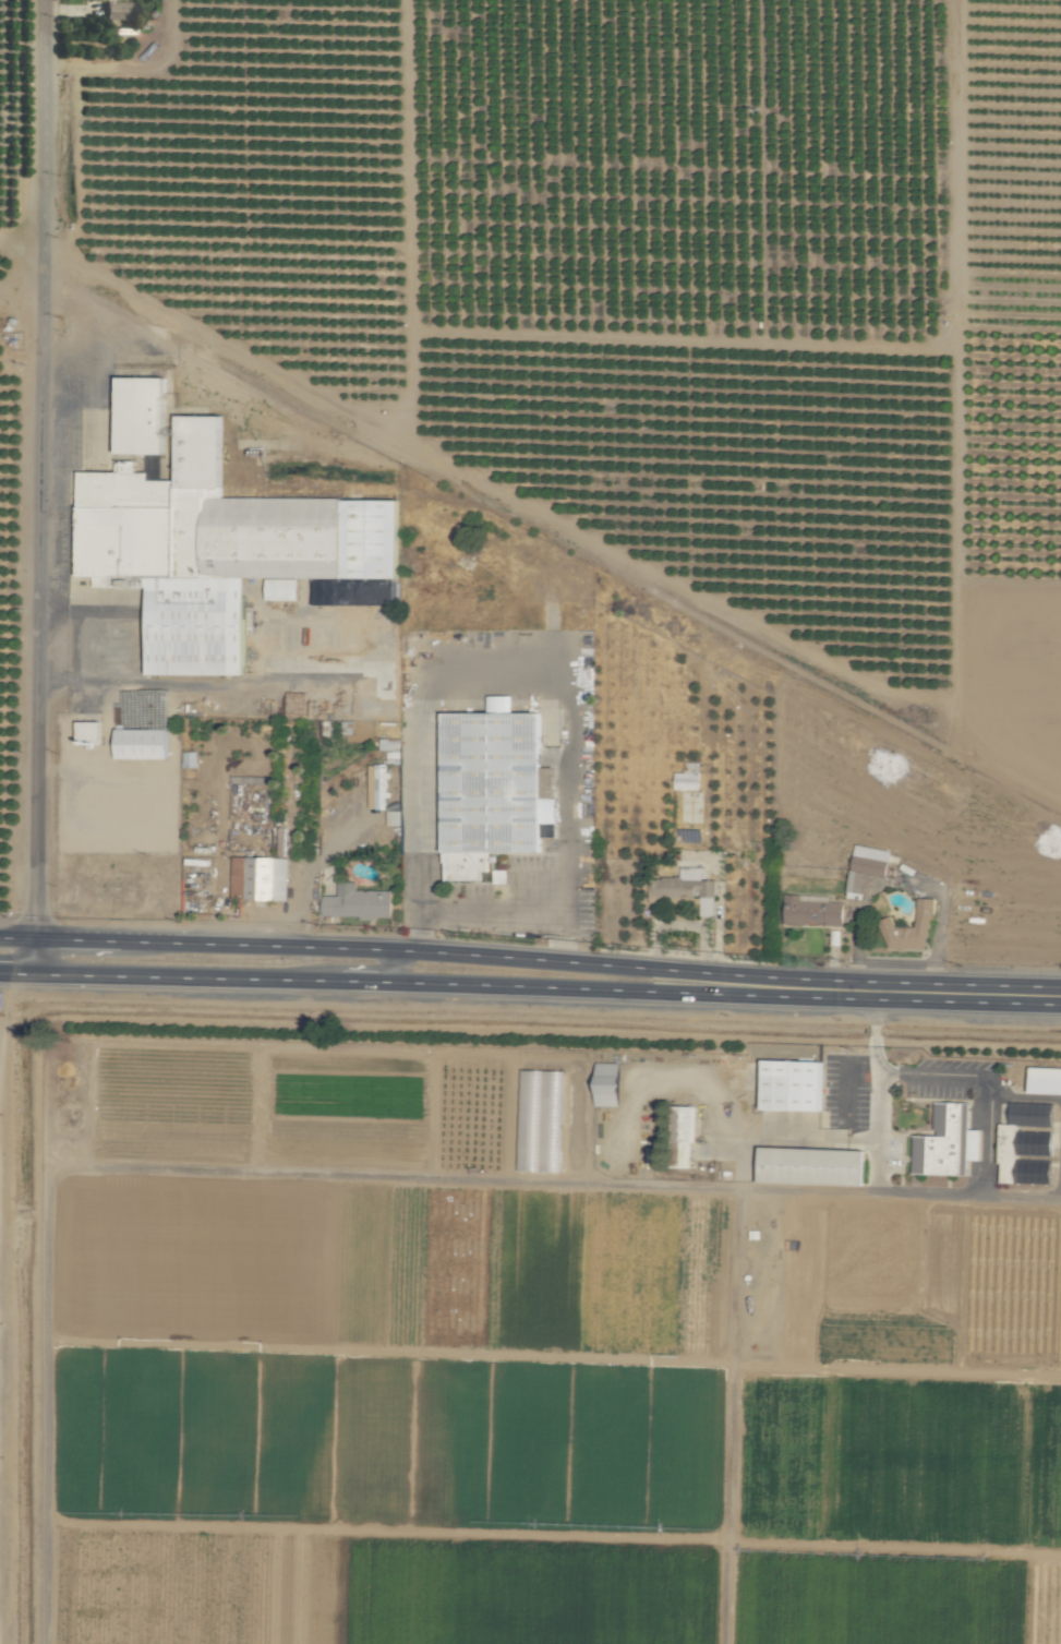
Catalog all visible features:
building: (119, 11)
road: (28, 253)
building: (142, 413)
road: (50, 488)
building: (224, 549)
road: (96, 617)
road: (293, 685)
building: (89, 733)
building: (142, 743)
building: (189, 759)
building: (686, 777)
building: (378, 785)
building: (490, 785)
crop: (530, 821)
road: (338, 841)
building: (865, 867)
building: (267, 877)
building: (685, 890)
building: (358, 902)
road: (300, 905)
building: (812, 910)
building: (911, 929)
road: (415, 931)
road: (400, 952)
road: (351, 965)
road: (399, 983)
road: (930, 993)
road: (873, 1007)
road: (873, 1032)
road: (873, 1058)
building: (1045, 1080)
road: (970, 1081)
building: (608, 1083)
building: (792, 1084)
building: (686, 1139)
building: (948, 1142)
building: (1008, 1153)
building: (812, 1165)
road: (746, 1166)
road: (911, 1192)

